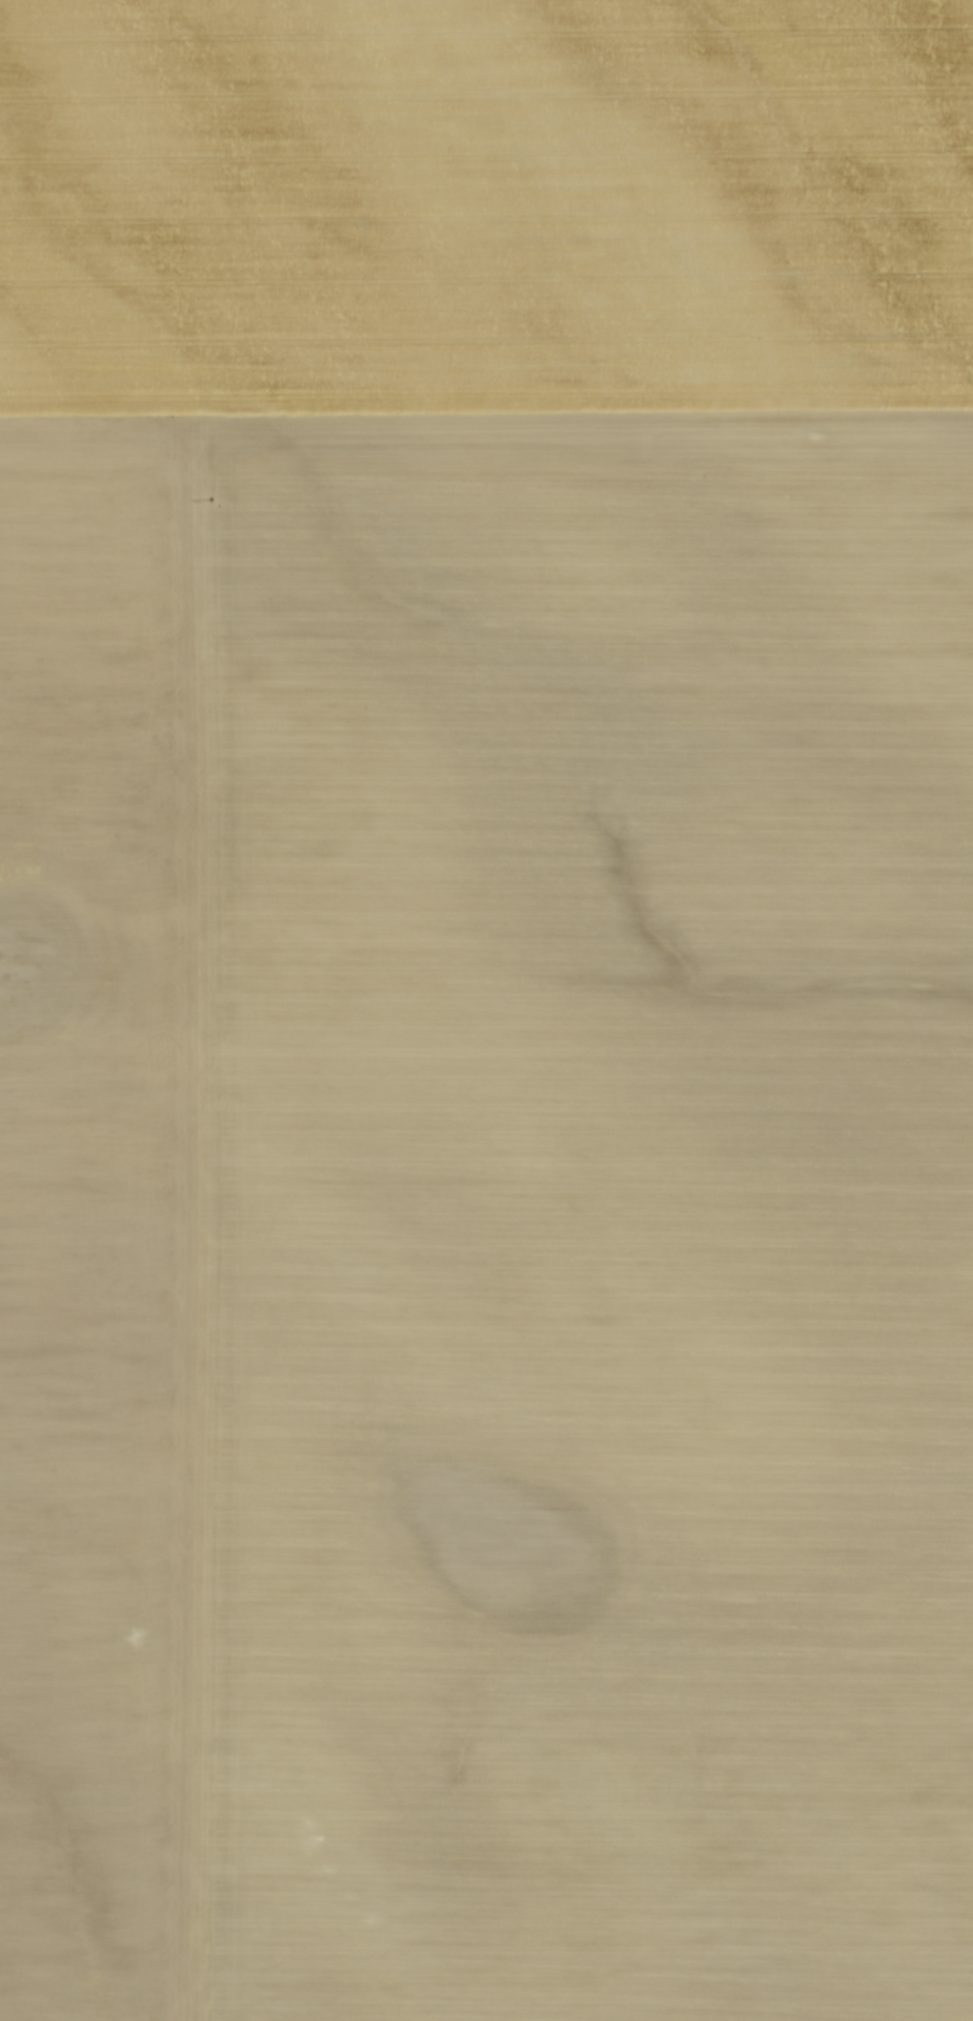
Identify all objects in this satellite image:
crop: (486, 1010)

